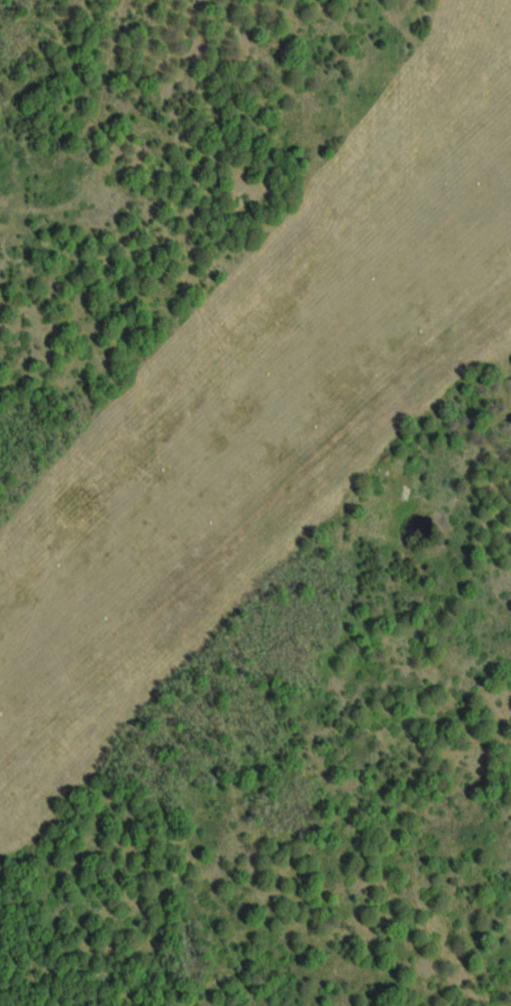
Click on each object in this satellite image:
airport: (262, 414)

